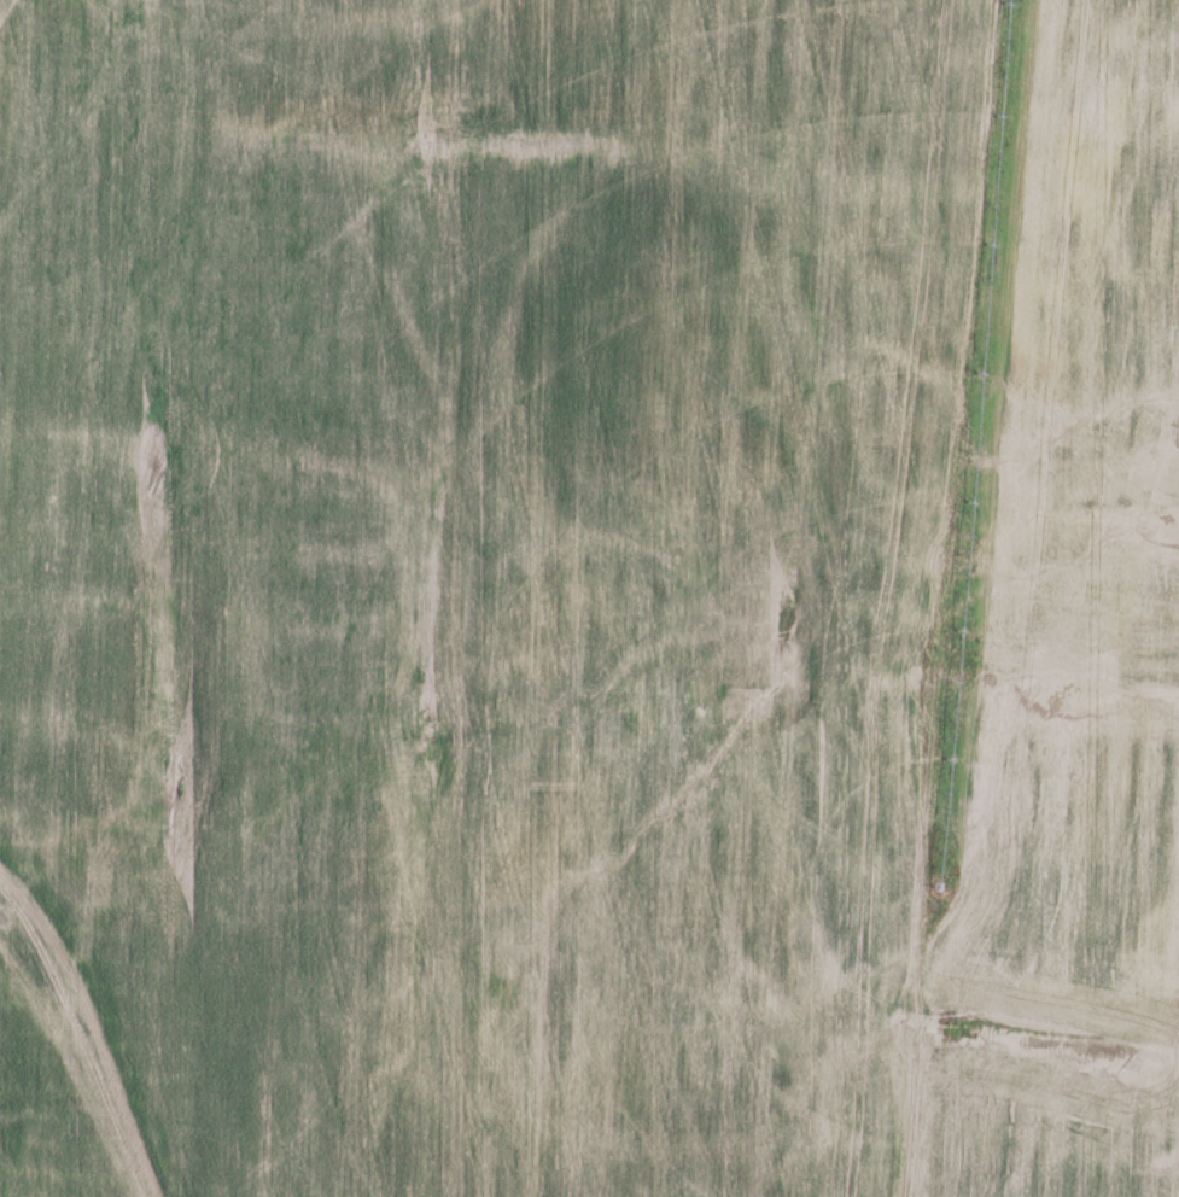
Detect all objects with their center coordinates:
road: (89, 1044)

